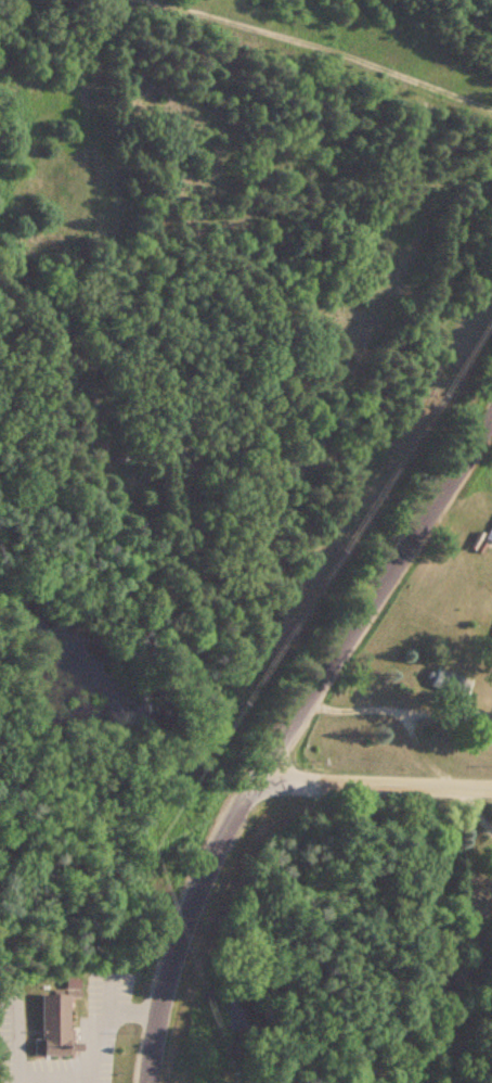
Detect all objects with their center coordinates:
road: (313, 58)
building: (489, 534)
building: (470, 718)
road: (284, 735)
road: (372, 789)
road: (476, 811)
road: (98, 1021)
building: (52, 1023)

